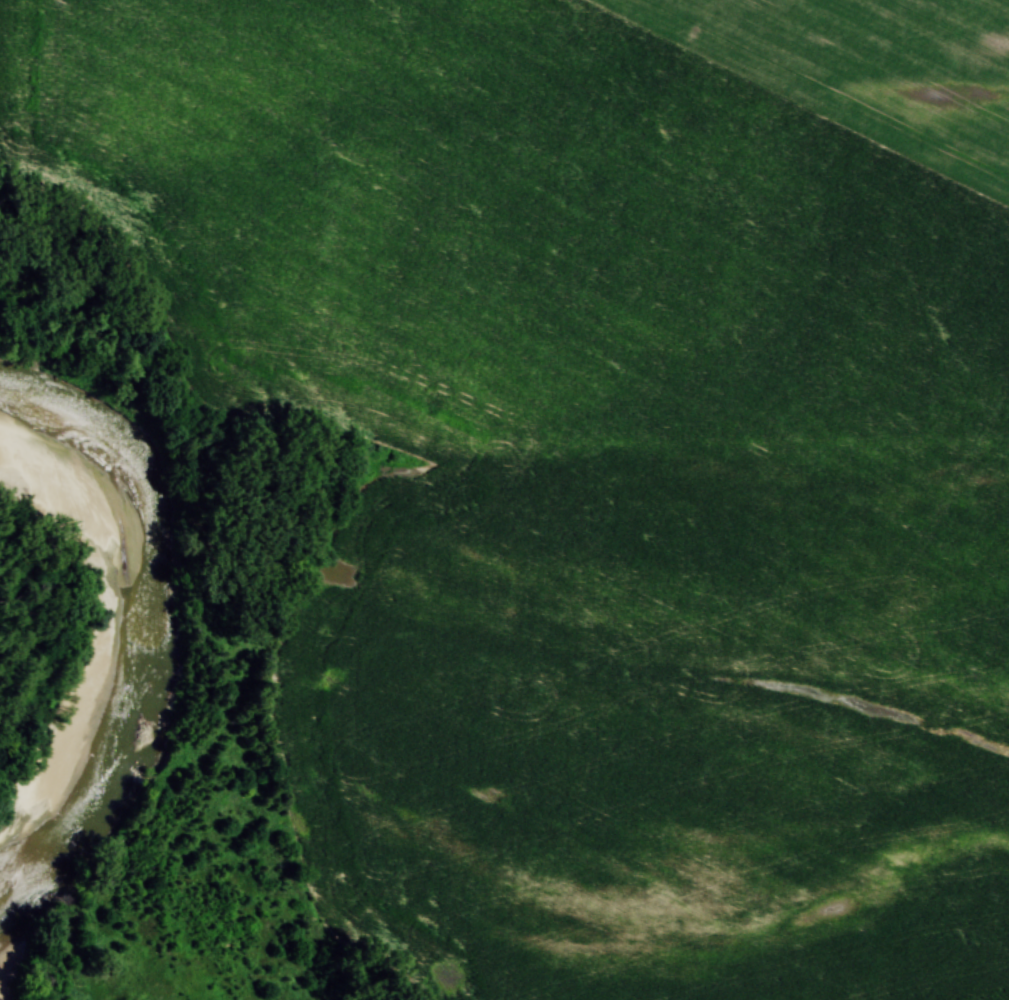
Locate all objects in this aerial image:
river: (120, 603)

